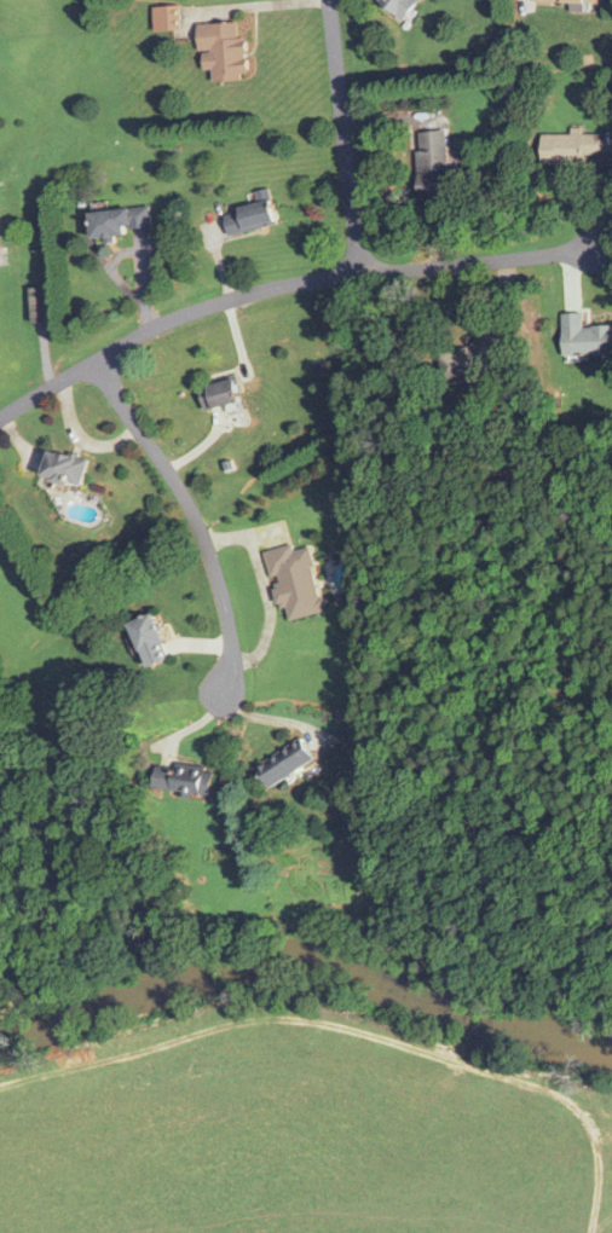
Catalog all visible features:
building: (568, 1)
building: (400, 6)
building: (169, 19)
building: (225, 52)
building: (571, 147)
building: (434, 164)
building: (254, 215)
building: (122, 224)
road: (353, 231)
road: (282, 286)
building: (584, 336)
building: (473, 358)
building: (224, 395)
building: (68, 470)
road: (192, 515)
building: (296, 579)
building: (152, 638)
building: (287, 762)
building: (186, 777)

